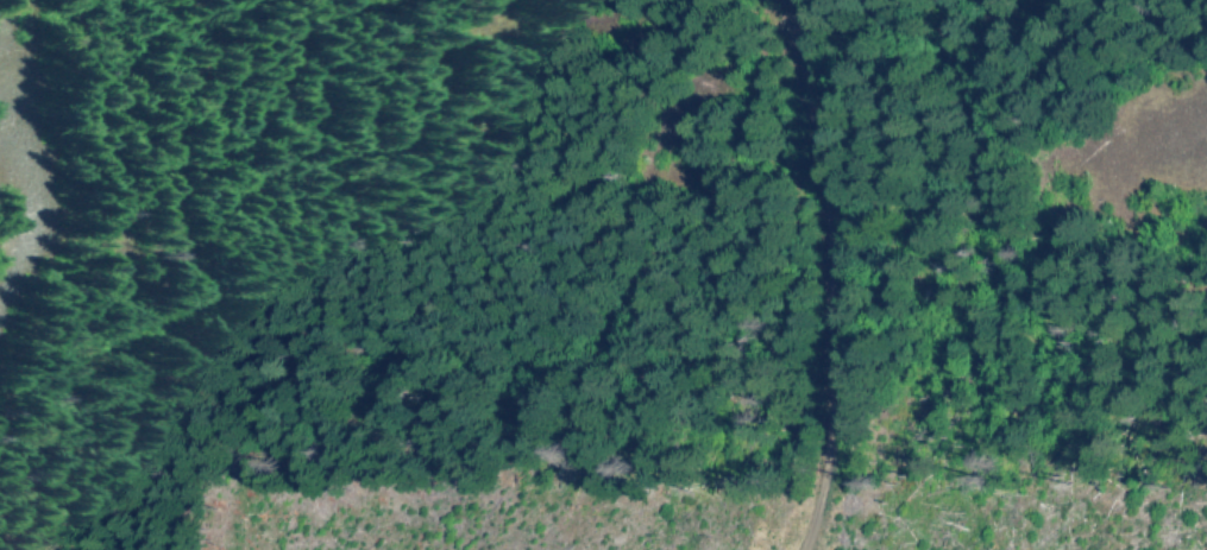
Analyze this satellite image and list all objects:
road: (826, 273)

